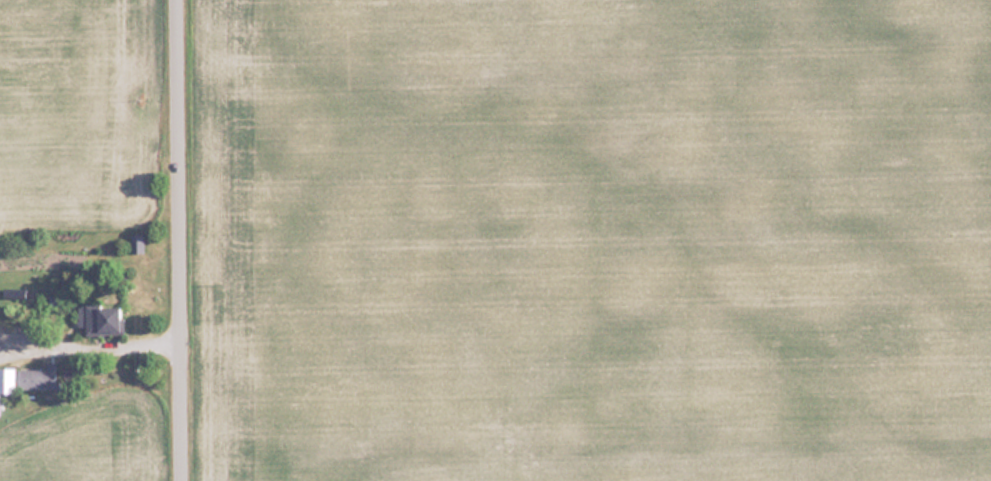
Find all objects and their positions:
road: (180, 240)
building: (136, 241)
building: (100, 319)
road: (90, 334)
building: (38, 378)
building: (7, 380)

